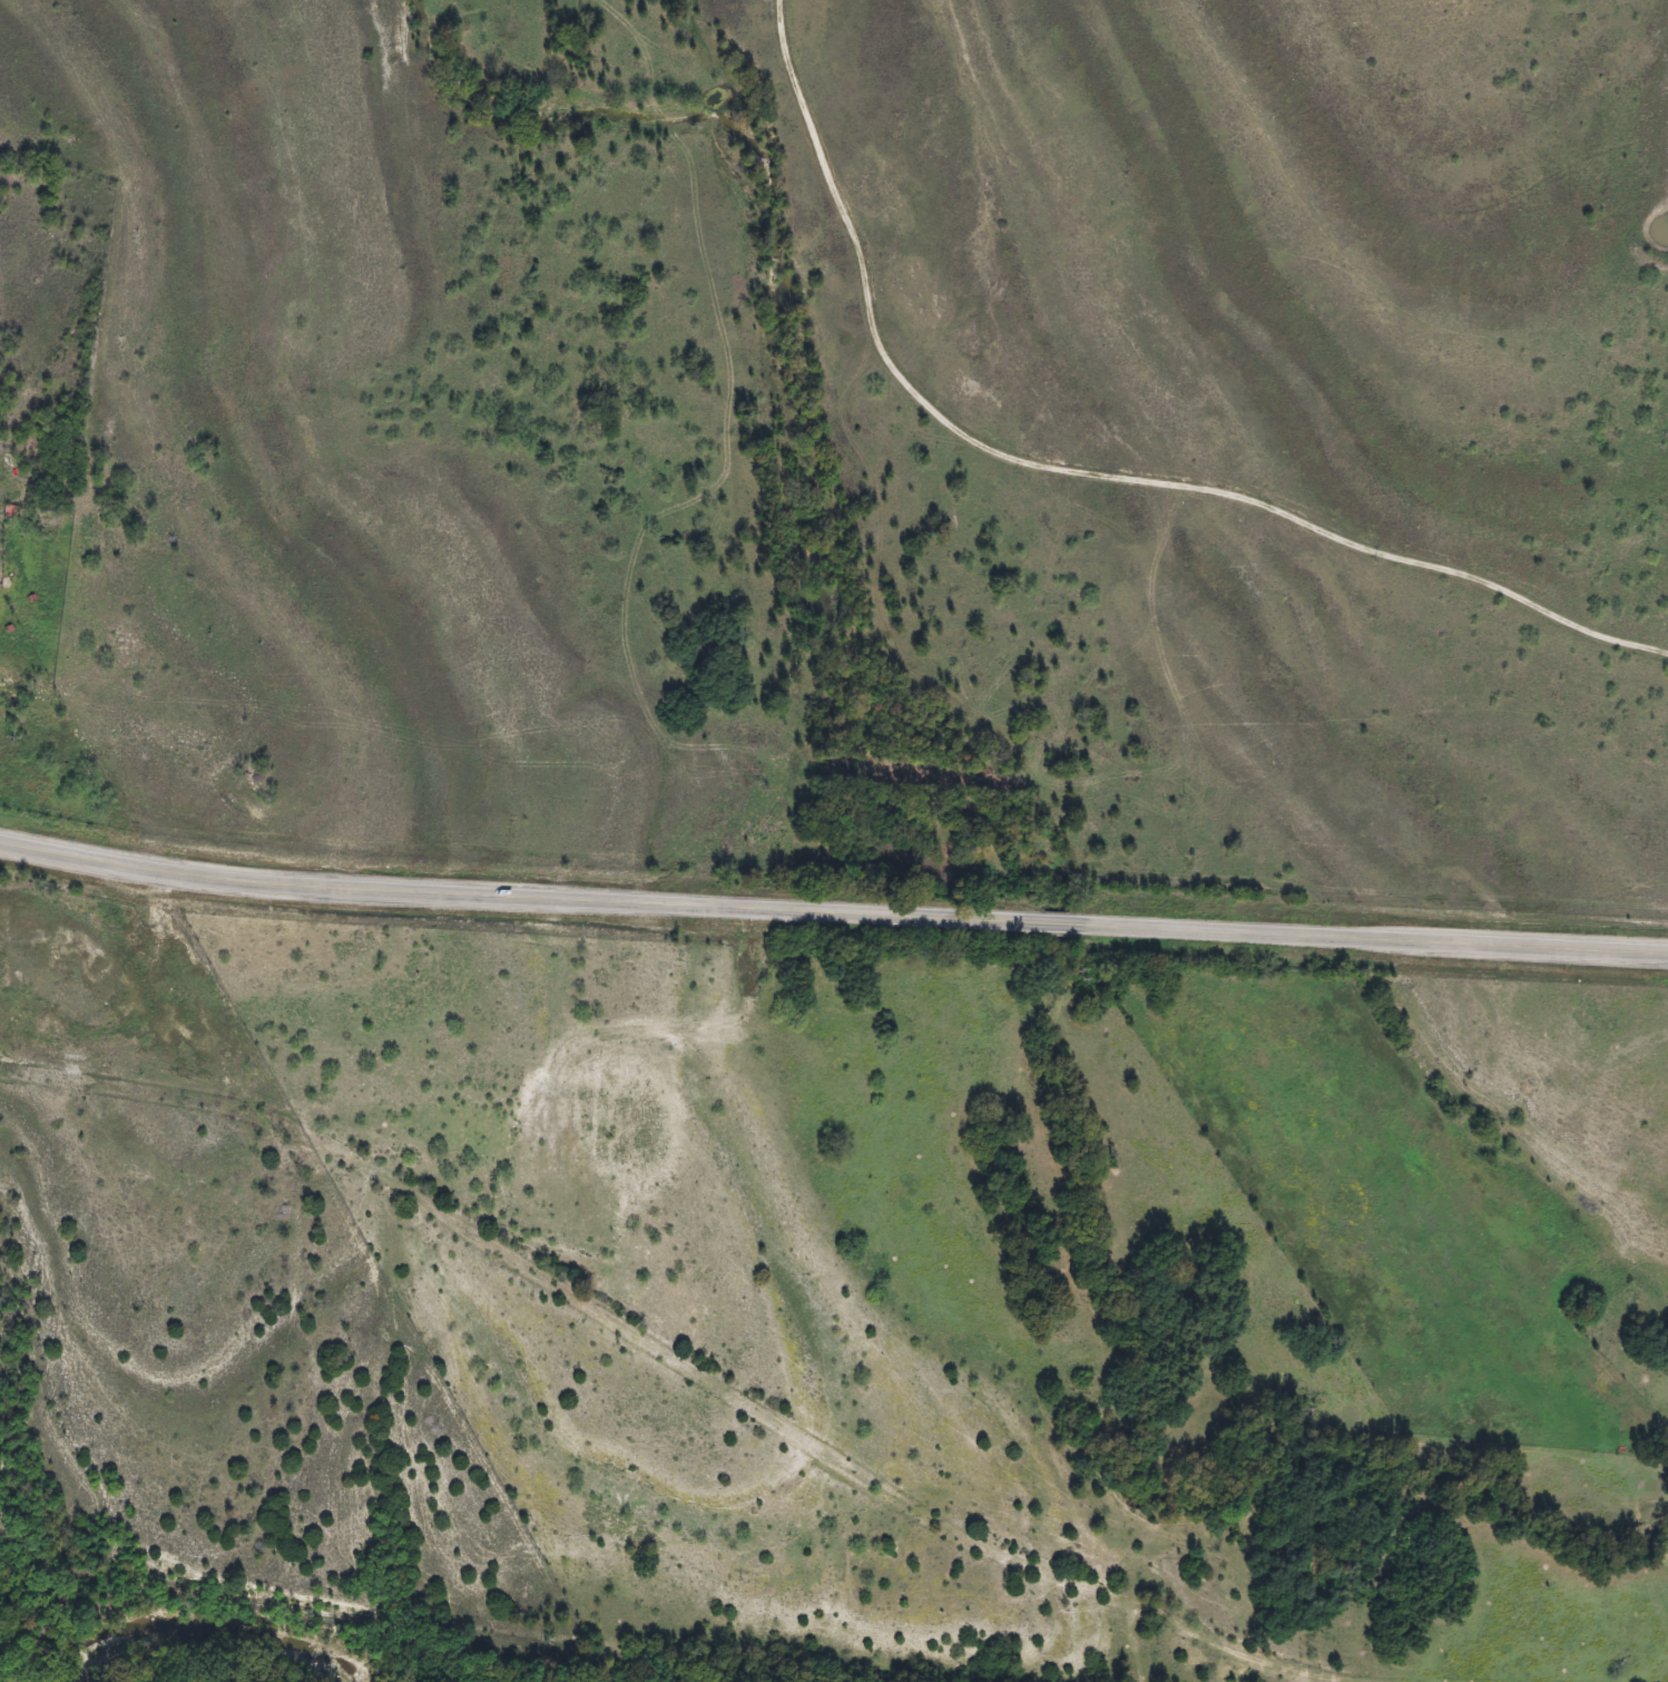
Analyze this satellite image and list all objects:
road: (832, 907)

